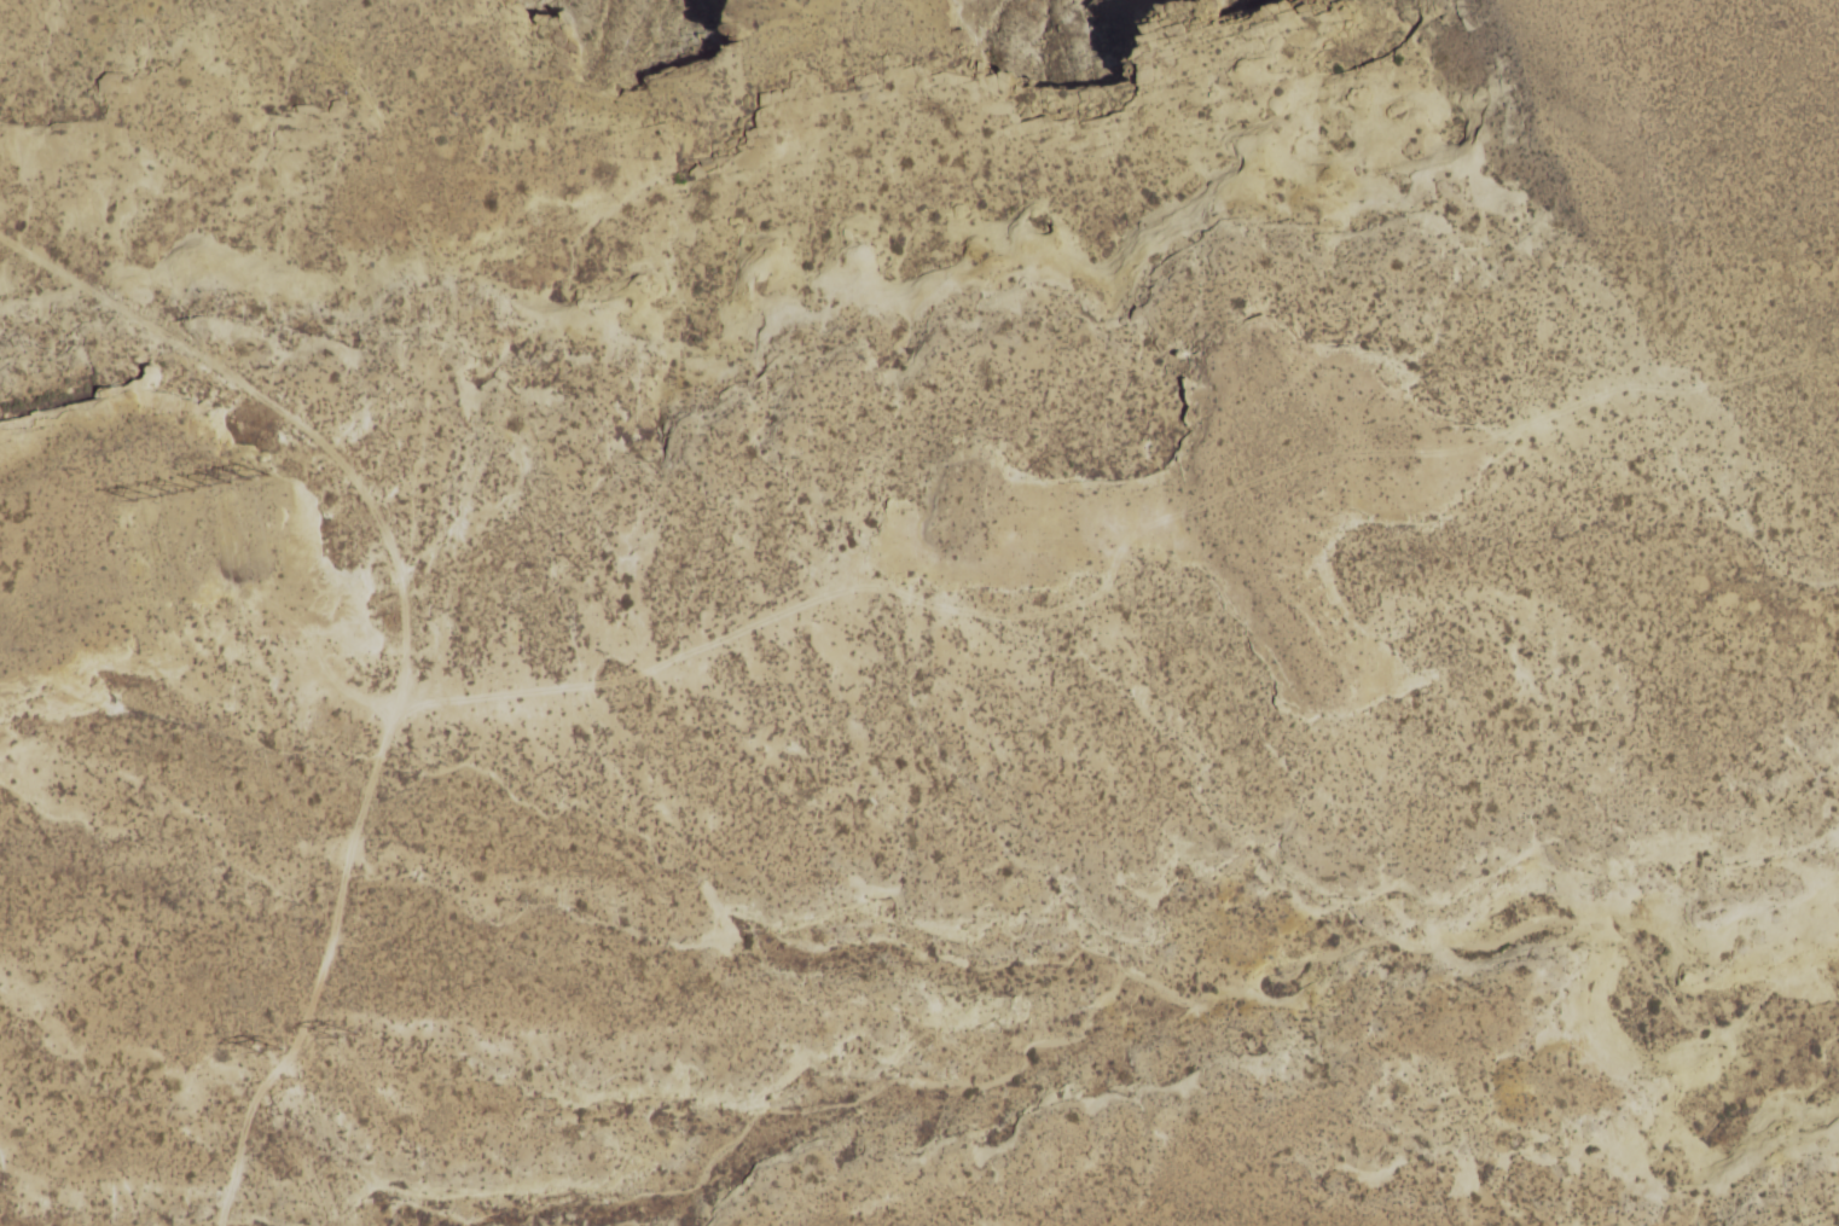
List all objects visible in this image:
power tower: (245, 476)
power tower: (162, 492)
power tower: (343, 1034)
power tower: (263, 1050)

